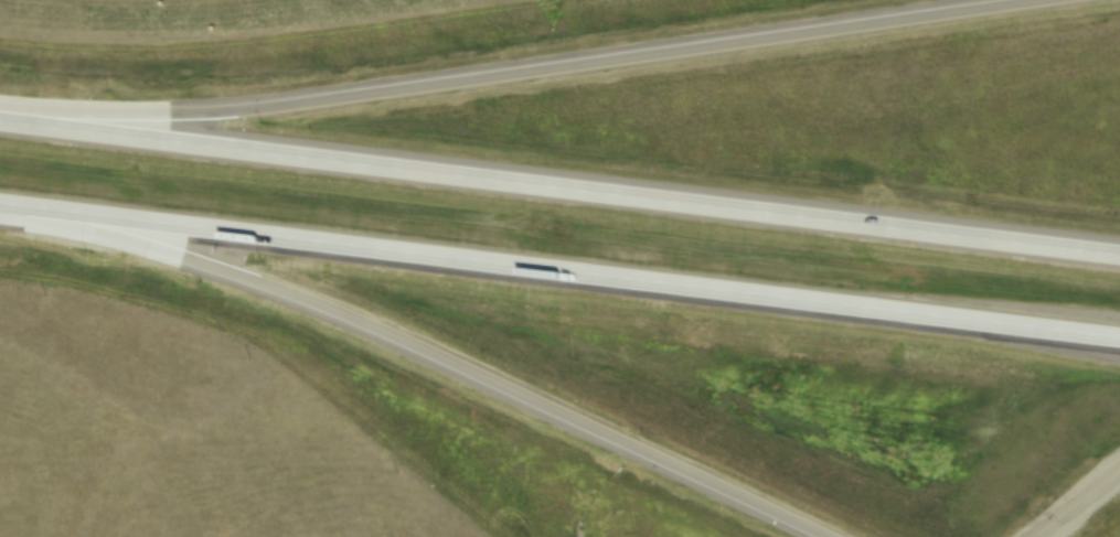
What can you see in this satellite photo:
road: (521, 71)
road: (559, 191)
road: (559, 271)
road: (419, 350)
road: (1075, 502)

